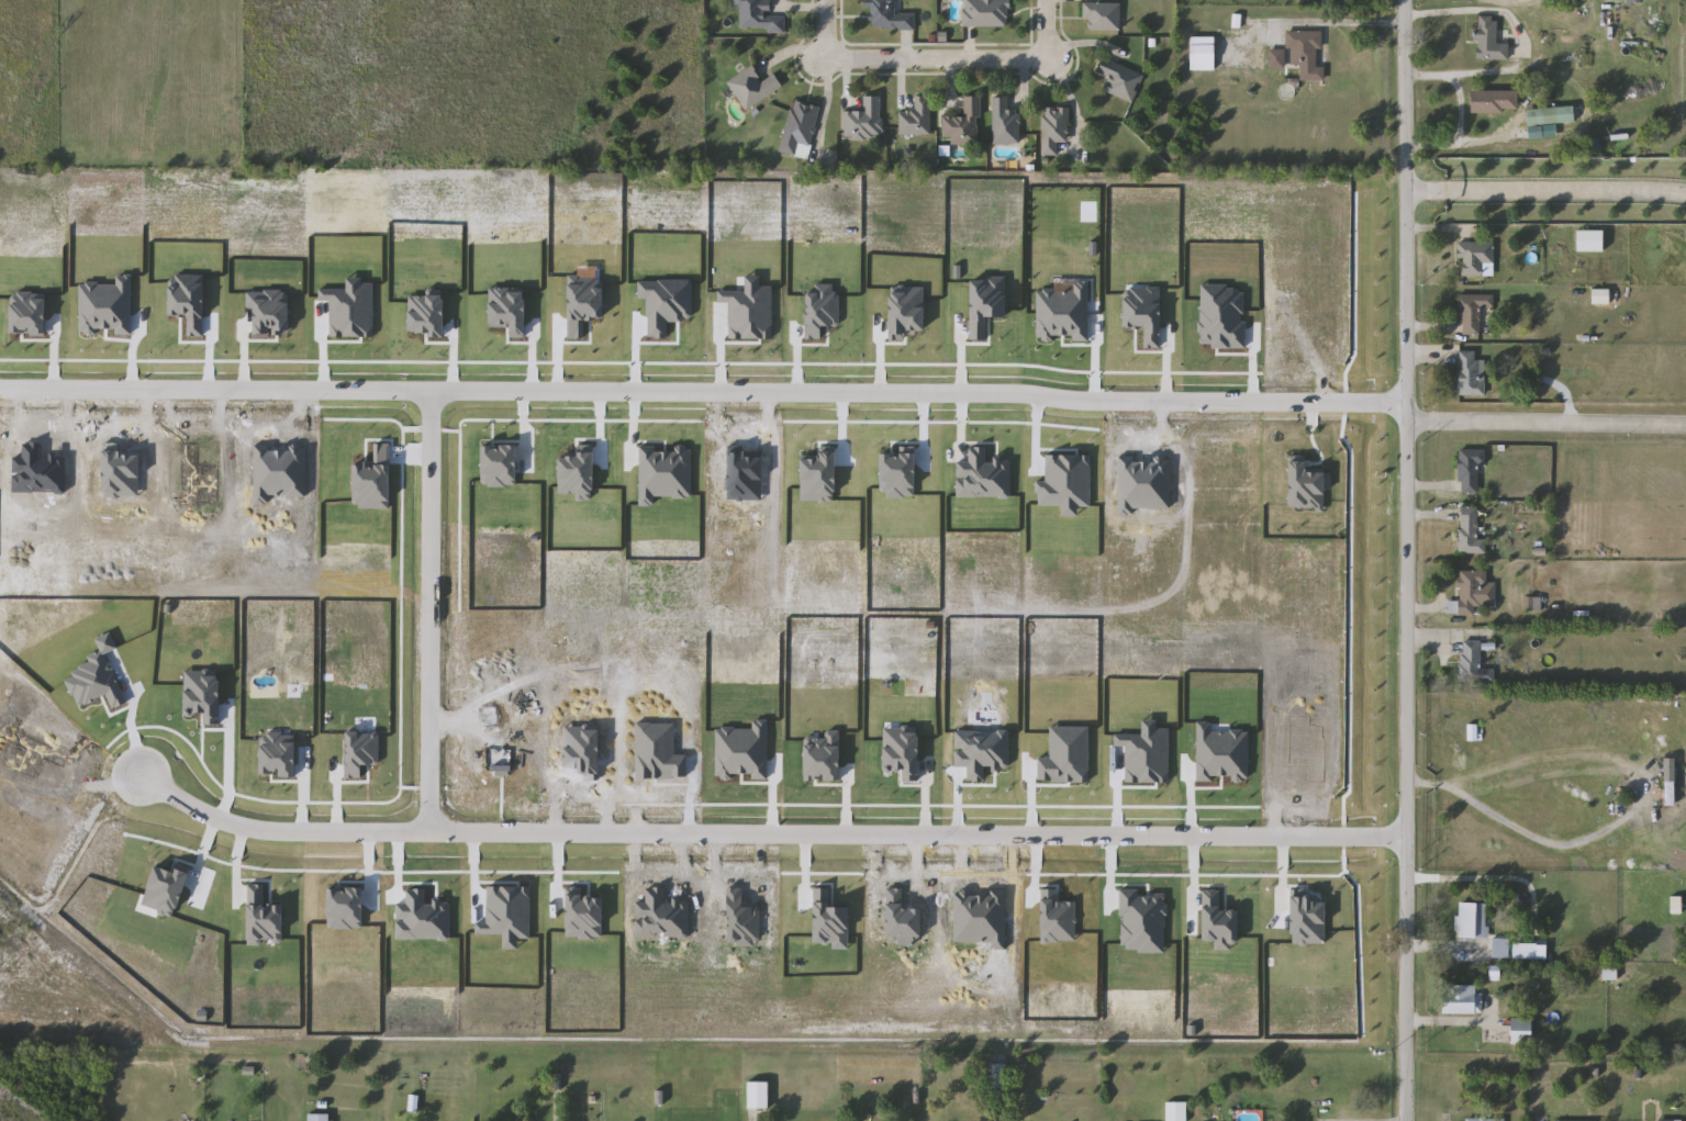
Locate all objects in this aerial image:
building: (986, 13)
building: (1103, 14)
building: (758, 15)
building: (890, 15)
road: (1343, 23)
road: (826, 27)
road: (1040, 31)
building: (1490, 40)
building: (1306, 53)
road: (928, 57)
building: (1277, 58)
building: (1120, 80)
building: (752, 87)
building: (1495, 102)
building: (1552, 115)
building: (917, 119)
building: (864, 120)
building: (1005, 122)
building: (963, 124)
building: (1054, 128)
building: (800, 130)
road: (1463, 147)
road: (1541, 190)
building: (1590, 240)
building: (1477, 258)
building: (1474, 312)
building: (1472, 374)
road: (699, 386)
road: (1542, 412)
building: (1471, 472)
building: (1470, 533)
road: (1399, 560)
building: (1470, 594)
road: (433, 606)
building: (1474, 663)
road: (129, 711)
building: (1670, 783)
road: (768, 830)
road: (1527, 832)
road: (1486, 877)
building: (1473, 921)
road: (1442, 949)
building: (1501, 949)
building: (1610, 974)
building: (1463, 1000)
road: (1447, 1021)
building: (1523, 1032)
building: (996, 1079)
building: (758, 1095)
building: (319, 1118)
building: (1482, 1120)
building: (1670, 1120)

